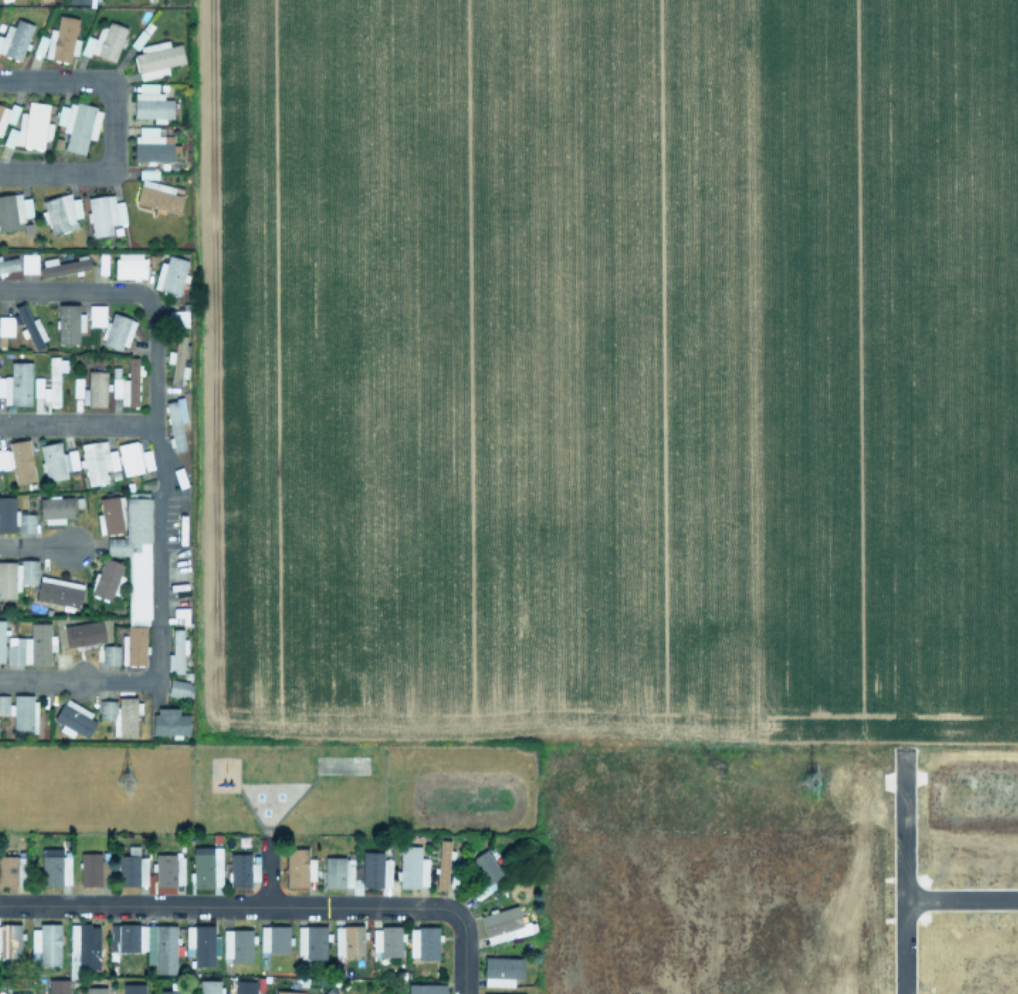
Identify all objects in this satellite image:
building: (79, 1)
building: (15, 39)
building: (62, 39)
building: (104, 41)
building: (156, 59)
building: (151, 103)
building: (78, 124)
road: (111, 125)
building: (30, 127)
building: (152, 145)
building: (158, 196)
building: (13, 210)
building: (61, 213)
building: (104, 214)
building: (28, 263)
building: (8, 264)
building: (129, 265)
building: (62, 266)
building: (170, 275)
road: (138, 293)
building: (177, 318)
building: (69, 323)
building: (6, 325)
building: (30, 327)
building: (111, 328)
building: (178, 359)
crop: (604, 371)
building: (16, 384)
building: (127, 385)
building: (91, 389)
building: (175, 423)
road: (76, 424)
building: (134, 458)
building: (56, 460)
building: (18, 461)
building: (97, 461)
building: (55, 509)
building: (110, 515)
building: (14, 517)
road: (34, 547)
building: (135, 555)
road: (156, 558)
building: (16, 576)
building: (107, 578)
building: (58, 591)
building: (83, 633)
building: (1, 639)
building: (133, 645)
building: (30, 646)
building: (176, 652)
building: (110, 654)
road: (69, 680)
building: (179, 688)
building: (20, 712)
building: (120, 714)
building: (74, 719)
building: (169, 722)
power tower: (125, 779)
power tower: (809, 781)
building: (441, 863)
building: (207, 867)
building: (298, 867)
building: (412, 867)
building: (93, 869)
building: (168, 869)
building: (375, 869)
building: (12, 870)
building: (55, 870)
building: (242, 870)
building: (337, 871)
road: (266, 873)
road: (961, 900)
road: (269, 907)
building: (503, 925)
building: (274, 938)
building: (9, 940)
building: (348, 940)
building: (386, 941)
building: (311, 942)
building: (423, 942)
building: (46, 943)
building: (147, 943)
building: (202, 944)
building: (237, 944)
road: (905, 947)
building: (83, 948)
building: (501, 970)
building: (57, 986)
building: (208, 986)
building: (245, 987)
building: (133, 988)
building: (426, 988)
building: (95, 990)
building: (170, 991)
building: (328, 991)
building: (288, 992)
building: (20, 993)
building: (494, 993)

